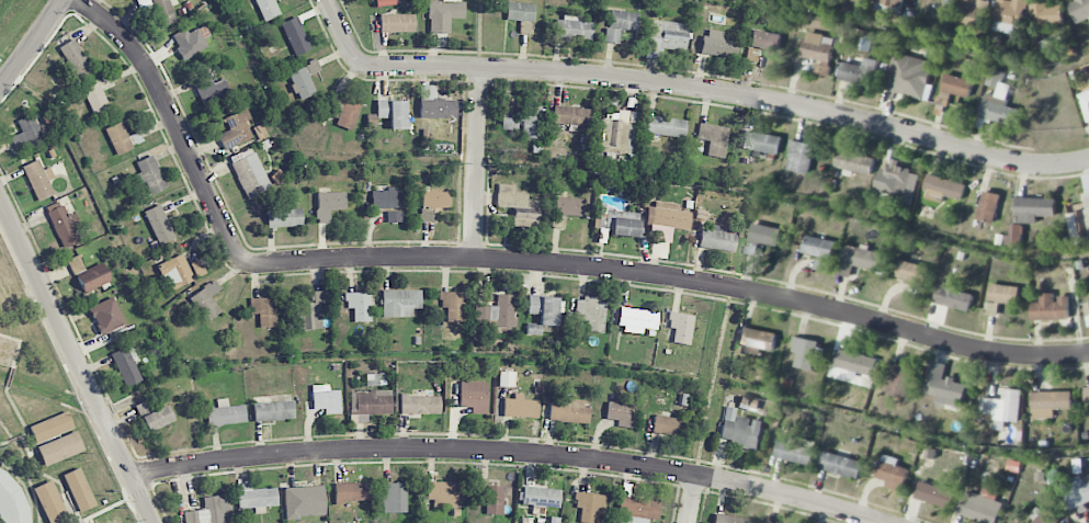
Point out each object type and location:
building: (952, 0)
building: (384, 2)
building: (891, 2)
building: (159, 9)
building: (266, 9)
building: (1079, 10)
building: (520, 11)
building: (973, 13)
building: (443, 14)
building: (1010, 15)
building: (1047, 16)
building: (397, 22)
building: (620, 24)
building: (524, 26)
building: (571, 26)
building: (668, 34)
building: (295, 35)
building: (765, 39)
building: (189, 42)
road: (32, 44)
building: (717, 44)
building: (818, 52)
building: (752, 54)
building: (75, 57)
building: (859, 71)
building: (907, 75)
building: (303, 79)
building: (956, 86)
road: (693, 87)
building: (211, 89)
building: (95, 98)
building: (997, 100)
building: (1085, 102)
building: (435, 104)
building: (343, 110)
building: (392, 112)
building: (571, 116)
building: (524, 121)
building: (666, 126)
building: (12, 129)
building: (236, 129)
building: (26, 132)
building: (118, 138)
building: (713, 138)
building: (761, 141)
building: (799, 157)
building: (853, 163)
road: (477, 164)
building: (249, 173)
building: (150, 174)
building: (38, 179)
building: (899, 180)
building: (943, 189)
building: (386, 198)
building: (435, 198)
building: (519, 202)
building: (329, 204)
building: (988, 206)
building: (1034, 208)
building: (566, 209)
building: (426, 214)
building: (395, 216)
building: (1080, 216)
building: (283, 217)
building: (160, 220)
building: (667, 220)
building: (619, 224)
building: (64, 226)
building: (764, 235)
building: (1016, 236)
building: (716, 238)
building: (818, 247)
building: (858, 259)
road: (513, 262)
building: (821, 264)
building: (178, 268)
building: (911, 271)
building: (92, 277)
building: (1003, 294)
building: (953, 297)
building: (206, 300)
building: (399, 303)
building: (359, 305)
building: (452, 305)
building: (1051, 307)
building: (544, 309)
building: (263, 310)
building: (310, 311)
building: (496, 312)
building: (591, 312)
building: (105, 315)
building: (636, 319)
building: (681, 327)
building: (757, 338)
building: (807, 352)
road: (76, 360)
building: (854, 362)
building: (125, 366)
building: (374, 378)
building: (506, 378)
building: (898, 378)
building: (943, 387)
building: (474, 396)
building: (1086, 397)
building: (326, 398)
building: (1050, 402)
building: (370, 403)
building: (420, 403)
building: (520, 407)
building: (1002, 408)
building: (273, 410)
building: (569, 411)
building: (620, 412)
building: (224, 413)
building: (152, 414)
building: (668, 425)
building: (50, 427)
building: (740, 430)
building: (60, 447)
road: (508, 451)
building: (794, 453)
building: (841, 465)
building: (892, 473)
building: (78, 489)
building: (353, 491)
building: (1077, 492)
building: (445, 494)
building: (934, 494)
building: (256, 497)
building: (394, 497)
building: (540, 497)
building: (491, 498)
road: (691, 499)
building: (12, 501)
building: (49, 501)
building: (303, 501)
building: (589, 505)
building: (979, 505)
building: (637, 509)
building: (209, 510)
building: (1045, 515)
building: (728, 519)

